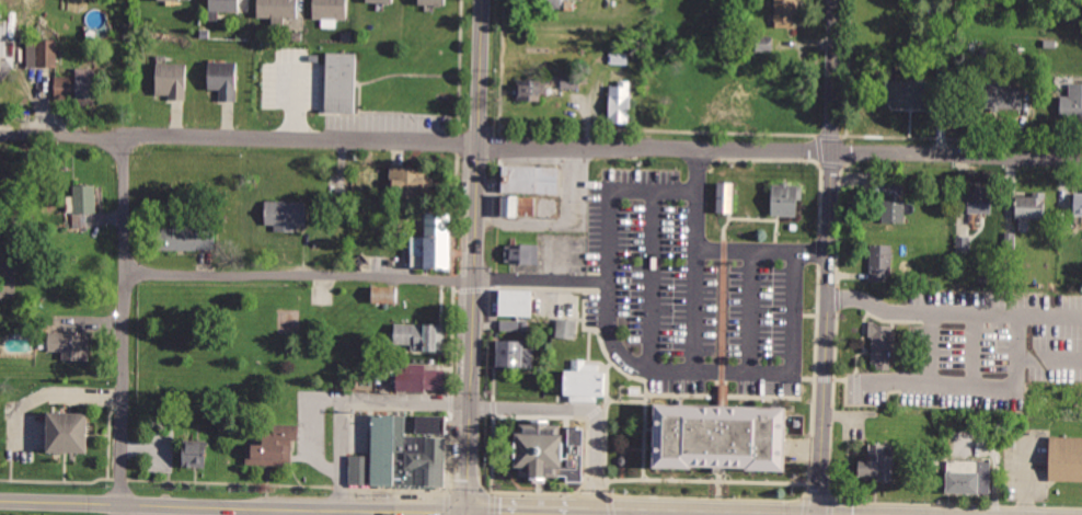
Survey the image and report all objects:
building: (177, 0)
building: (382, 1)
building: (435, 2)
building: (549, 3)
building: (228, 7)
building: (279, 8)
building: (331, 10)
building: (787, 12)
building: (3, 35)
building: (766, 42)
building: (47, 51)
road: (500, 66)
road: (392, 70)
building: (945, 73)
building: (223, 79)
building: (572, 80)
building: (172, 81)
building: (78, 83)
building: (531, 89)
building: (1005, 91)
building: (366, 92)
building: (908, 93)
building: (622, 102)
building: (1071, 103)
road: (358, 125)
road: (659, 128)
road: (830, 135)
road: (458, 137)
road: (962, 138)
road: (416, 140)
road: (496, 141)
road: (820, 148)
road: (956, 152)
road: (760, 156)
road: (832, 164)
building: (533, 168)
building: (411, 181)
building: (341, 194)
building: (724, 196)
building: (88, 197)
building: (785, 197)
building: (981, 198)
road: (821, 199)
building: (1079, 201)
building: (897, 202)
road: (479, 203)
building: (520, 204)
building: (1034, 205)
road: (498, 210)
building: (288, 213)
road: (752, 216)
building: (80, 219)
road: (839, 219)
road: (723, 225)
road: (775, 227)
building: (187, 236)
building: (963, 242)
road: (774, 245)
road: (722, 249)
road: (762, 249)
road: (819, 250)
building: (431, 251)
building: (522, 253)
road: (694, 254)
road: (828, 257)
building: (884, 262)
road: (653, 275)
road: (496, 277)
road: (368, 278)
road: (452, 279)
road: (473, 289)
road: (456, 290)
parking lot: (690, 291)
building: (384, 294)
road: (838, 298)
building: (518, 302)
road: (722, 308)
road: (747, 309)
road: (953, 311)
road: (798, 312)
road: (811, 314)
building: (511, 324)
road: (126, 325)
building: (567, 328)
building: (423, 336)
road: (452, 337)
road: (495, 342)
building: (72, 344)
building: (883, 344)
road: (932, 346)
parking lot: (981, 348)
building: (518, 352)
road: (1049, 356)
road: (633, 365)
road: (721, 368)
road: (620, 369)
park: (212, 374)
road: (797, 374)
road: (606, 377)
road: (809, 377)
building: (415, 378)
road: (826, 378)
road: (815, 379)
building: (582, 380)
road: (978, 385)
road: (55, 391)
road: (721, 392)
road: (623, 399)
road: (452, 401)
road: (833, 403)
road: (384, 405)
road: (494, 407)
road: (587, 409)
road: (596, 410)
road: (541, 415)
road: (649, 426)
building: (70, 431)
road: (318, 431)
road: (643, 437)
building: (724, 437)
road: (606, 445)
building: (276, 446)
parking lot: (160, 449)
road: (622, 449)
road: (806, 449)
road: (450, 450)
building: (197, 451)
building: (402, 453)
road: (493, 453)
road: (587, 454)
building: (550, 455)
building: (621, 458)
building: (1067, 458)
road: (471, 460)
parking lot: (1025, 462)
building: (877, 466)
building: (970, 476)
road: (1026, 477)
road: (707, 478)
road: (342, 481)
road: (718, 484)
road: (471, 488)
road: (536, 490)
road: (592, 490)
road: (806, 494)
road: (819, 495)
road: (832, 495)
road: (706, 497)
road: (447, 502)
road: (956, 502)
road: (61, 503)
road: (492, 503)
road: (610, 503)
road: (806, 505)
road: (830, 505)
road: (297, 510)
building: (150, 511)
road: (300, 513)
road: (341, 513)
traffic signals: (470, 514)
road: (481, 514)

